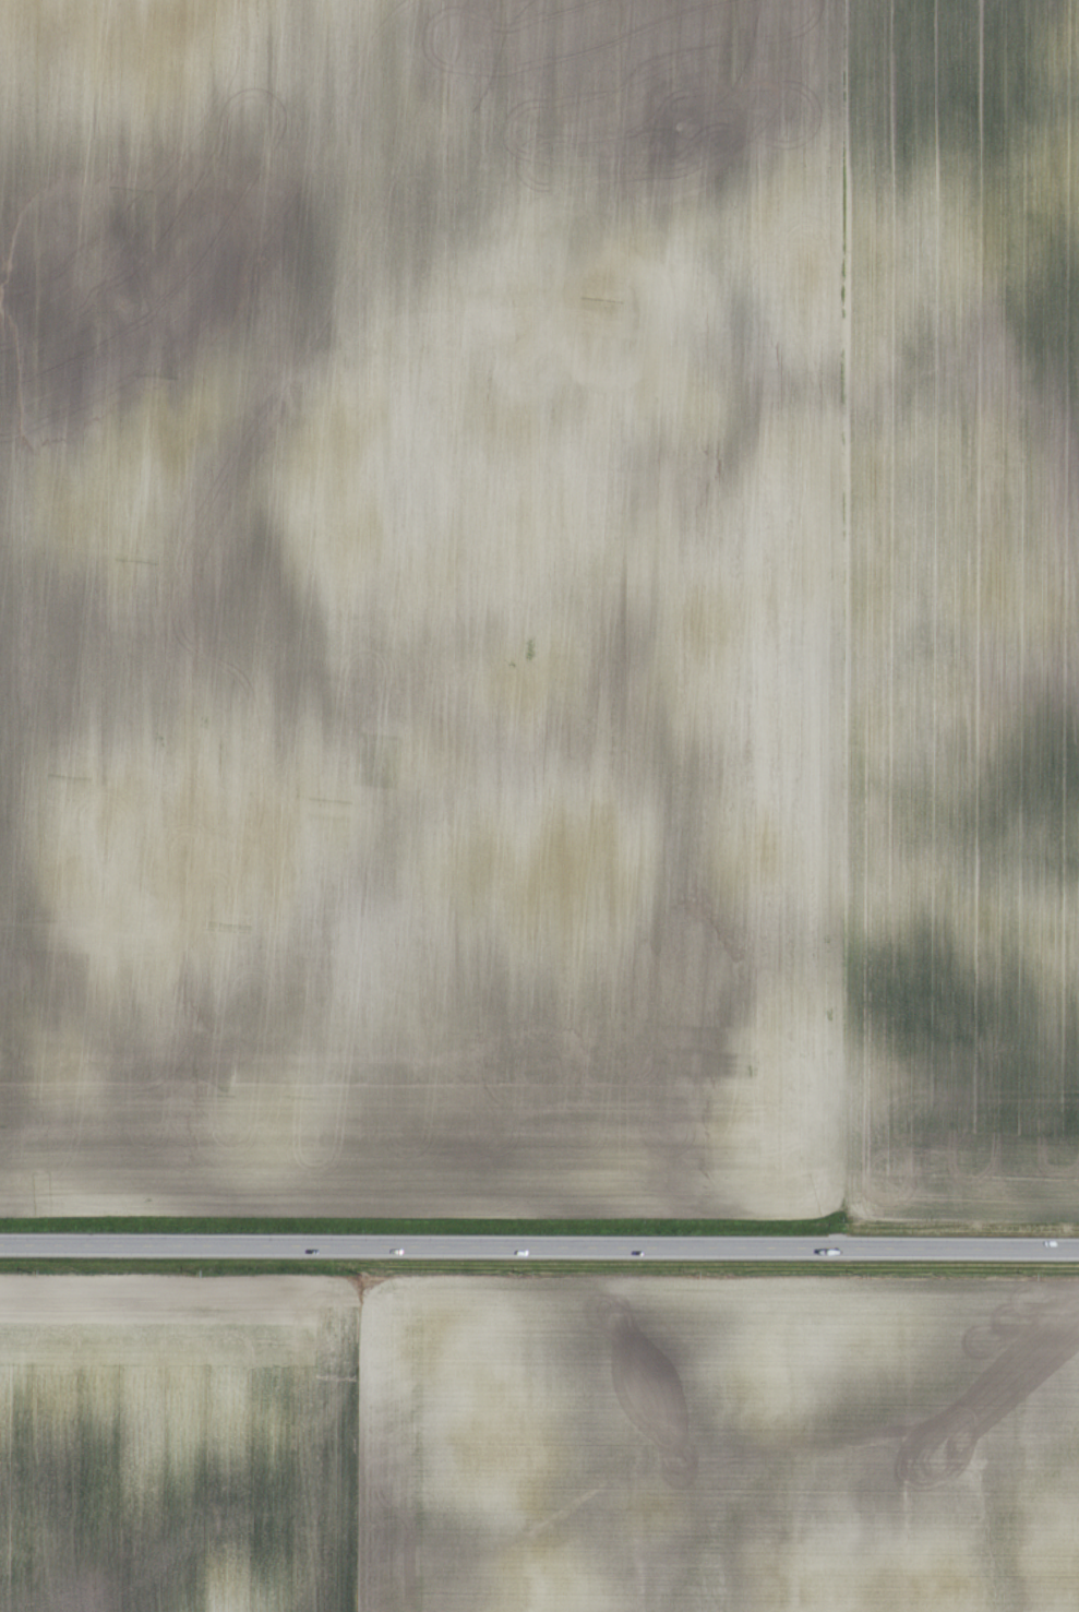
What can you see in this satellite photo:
road: (539, 1249)

